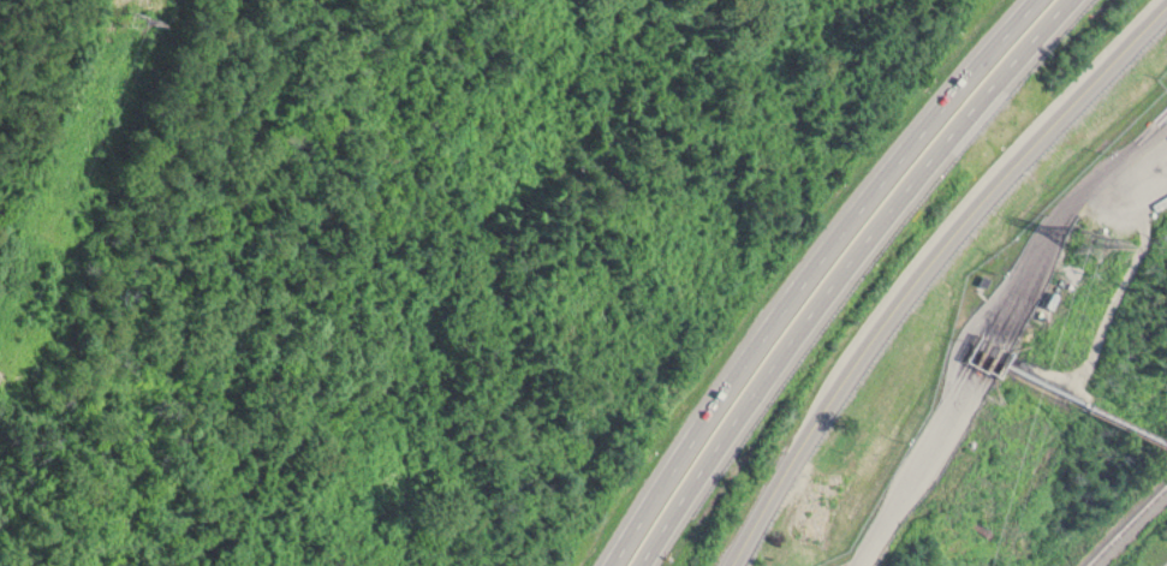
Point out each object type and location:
power tower: (138, 10)
power tower: (1086, 242)
road: (921, 264)
road: (809, 273)
road: (840, 275)
road: (988, 326)
power plant: (1024, 385)
railway: (1115, 520)

